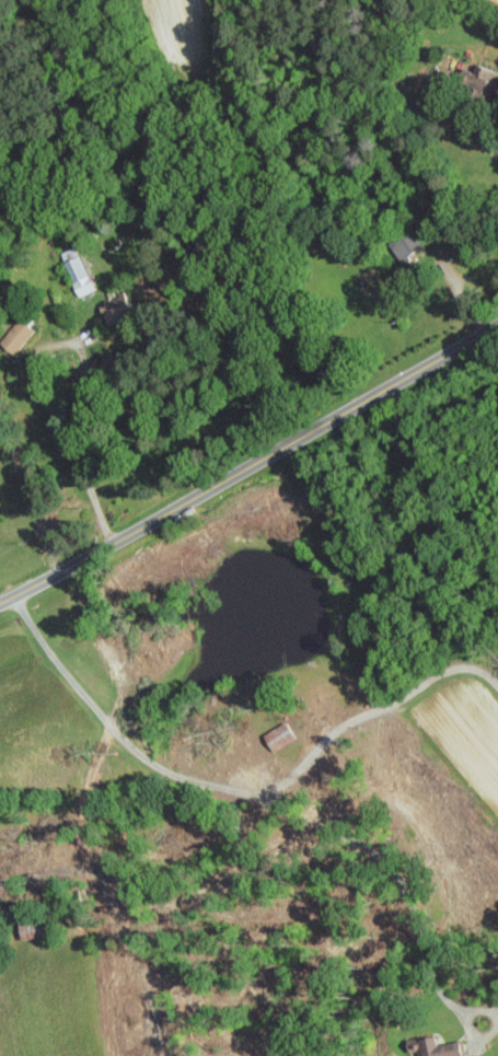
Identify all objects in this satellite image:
road: (475, 136)
building: (78, 275)
road: (304, 290)
building: (14, 335)
road: (45, 390)
road: (153, 430)
road: (250, 464)
road: (30, 498)
road: (373, 711)
road: (115, 728)
road: (401, 885)

